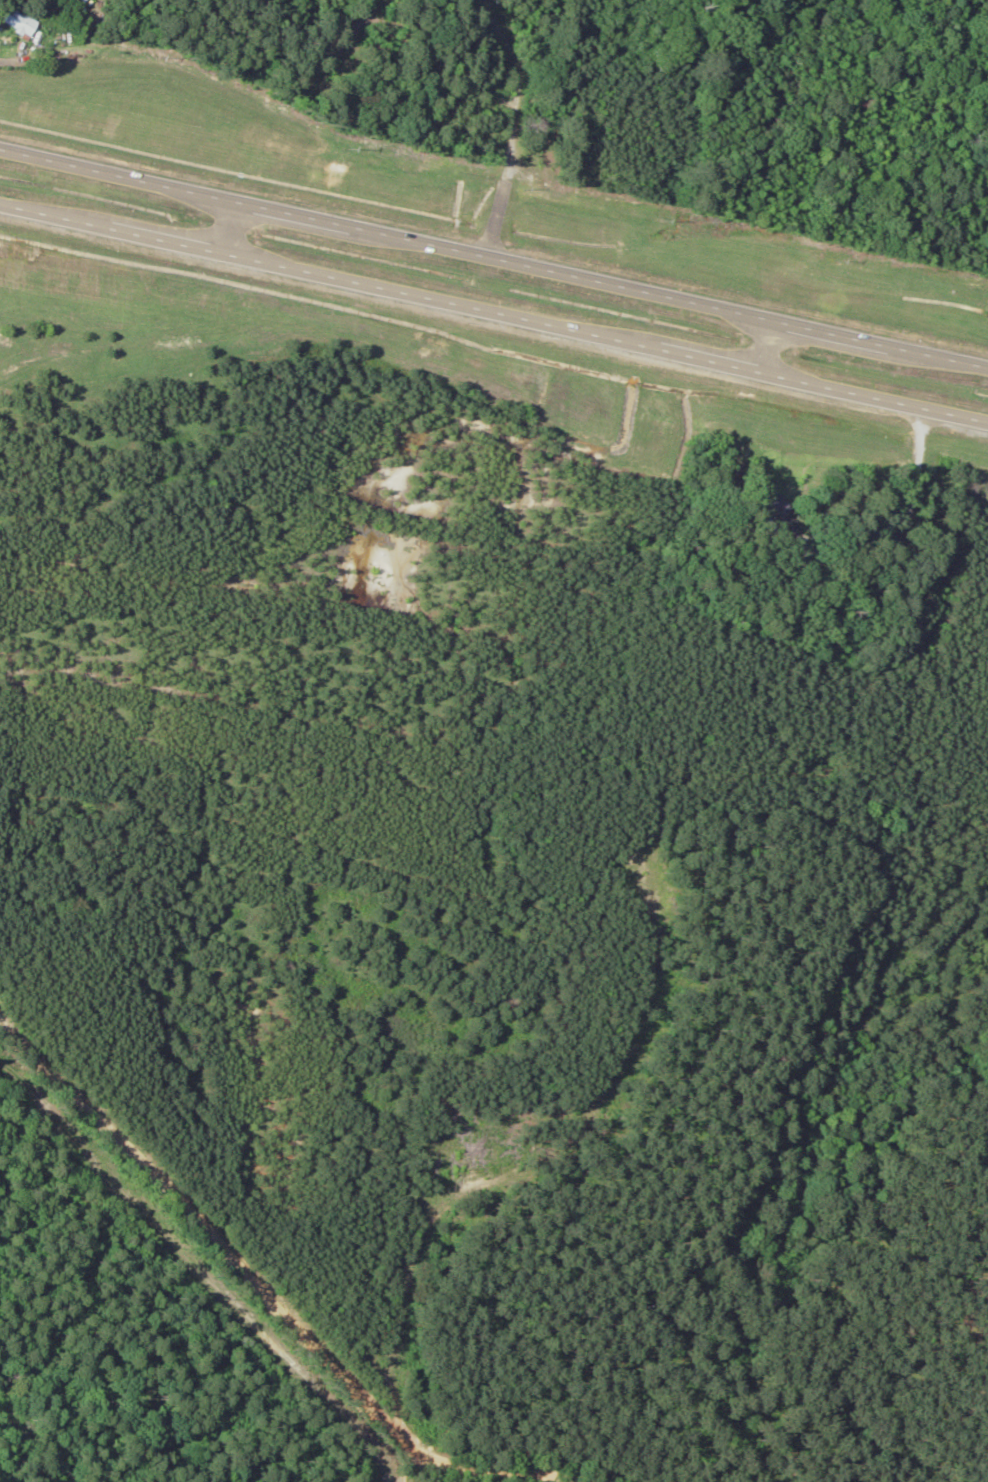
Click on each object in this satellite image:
building: (18, 21)
road: (506, 129)
road: (226, 228)
road: (494, 259)
road: (494, 313)
road: (760, 345)
building: (782, 520)
road: (264, 1299)

